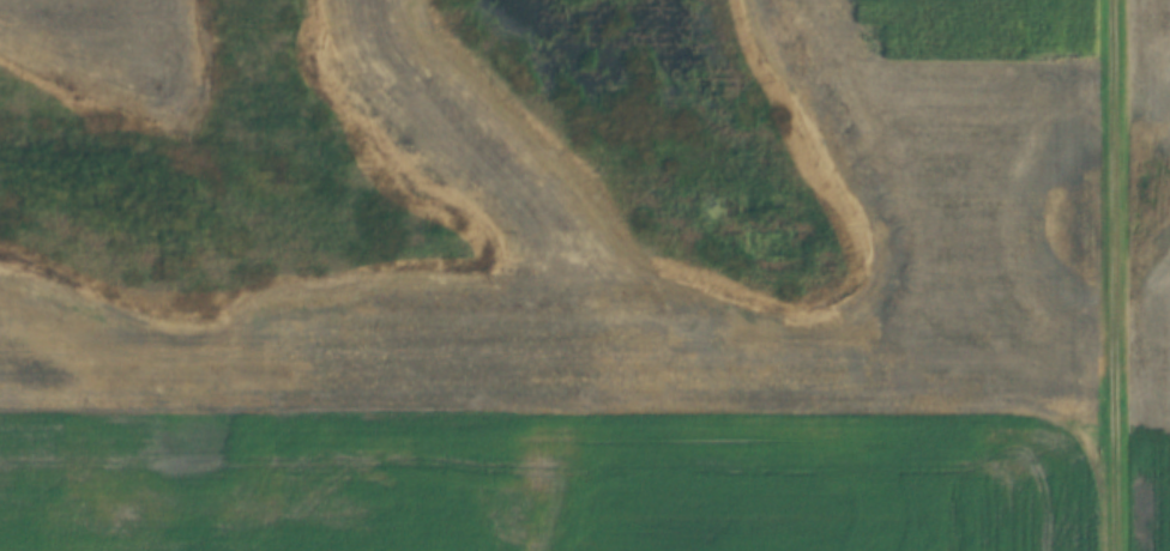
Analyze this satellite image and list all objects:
road: (1123, 275)

